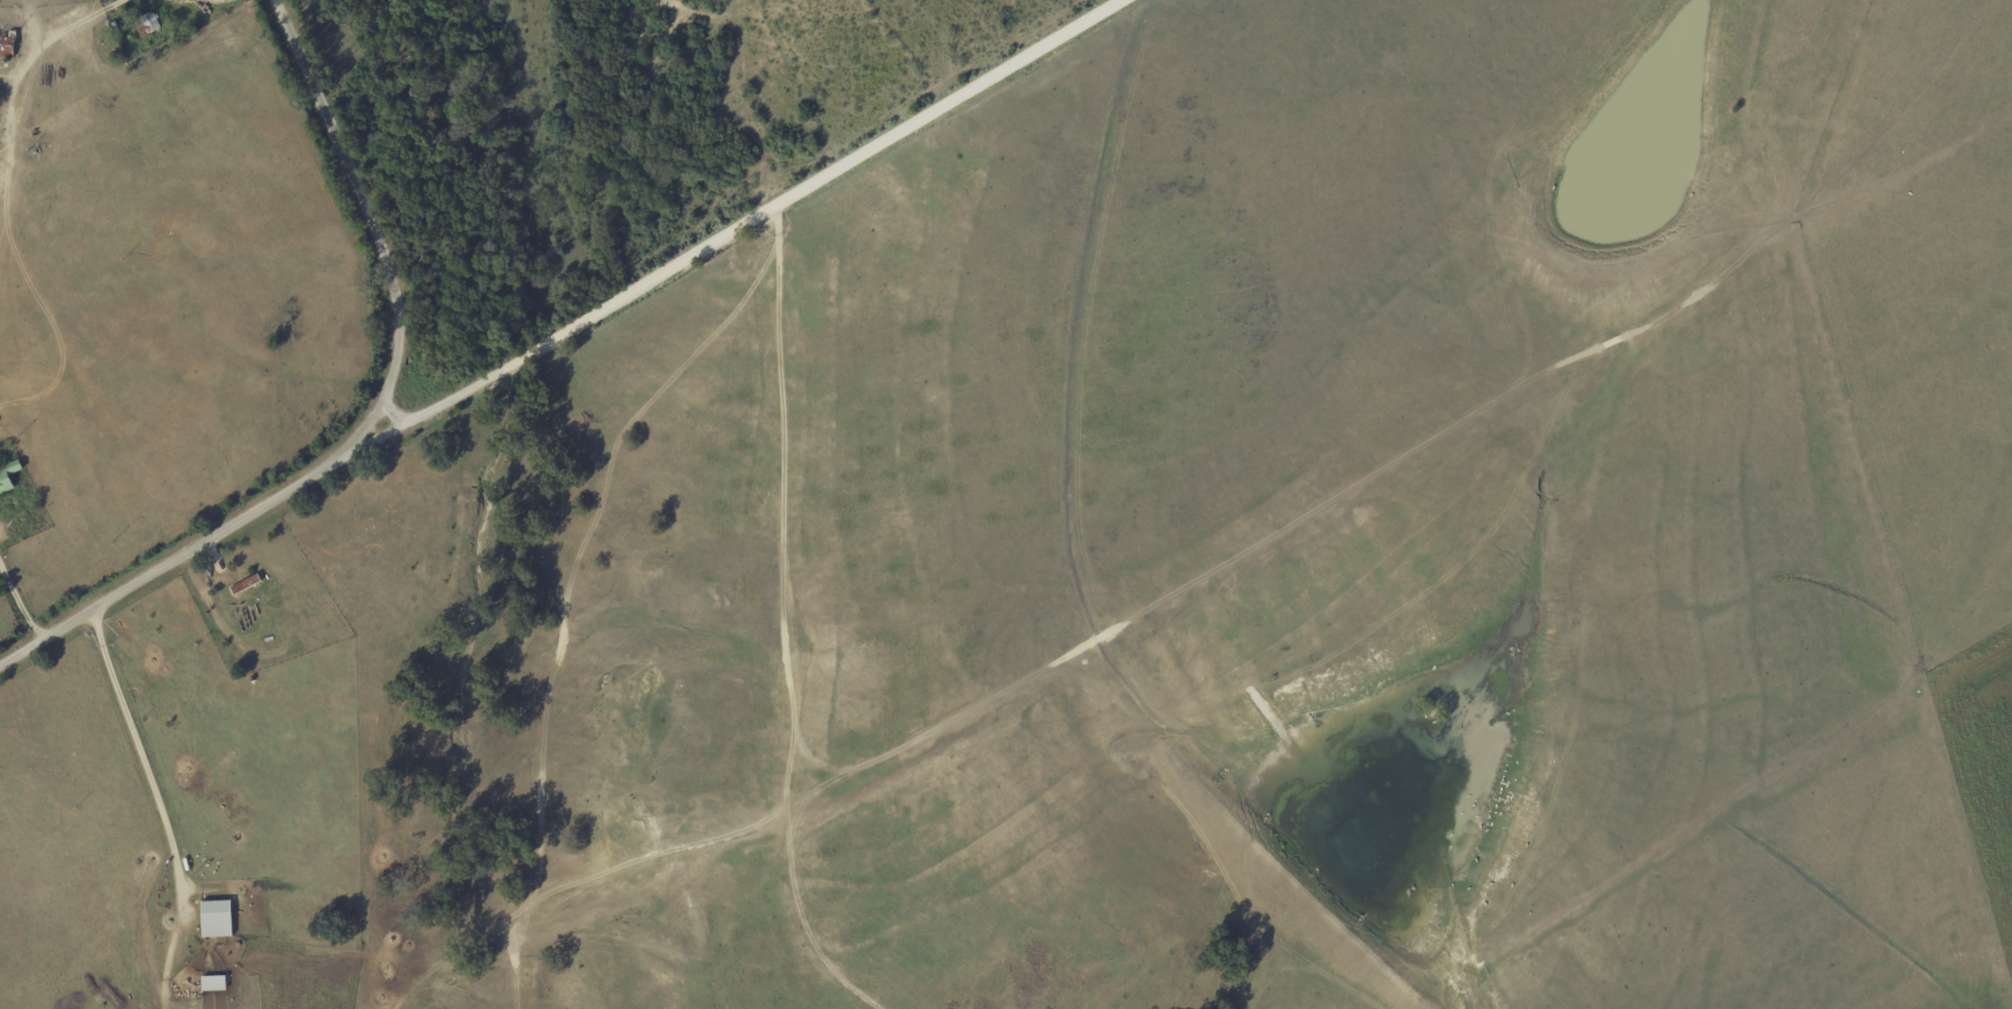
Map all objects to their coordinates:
road: (192, 1)
road: (25, 62)
road: (734, 229)
road: (393, 412)
road: (372, 420)
building: (8, 477)
road: (579, 545)
road: (18, 605)
road: (788, 627)
road: (157, 797)
road: (656, 857)
building: (217, 919)
road: (518, 956)
building: (214, 983)

